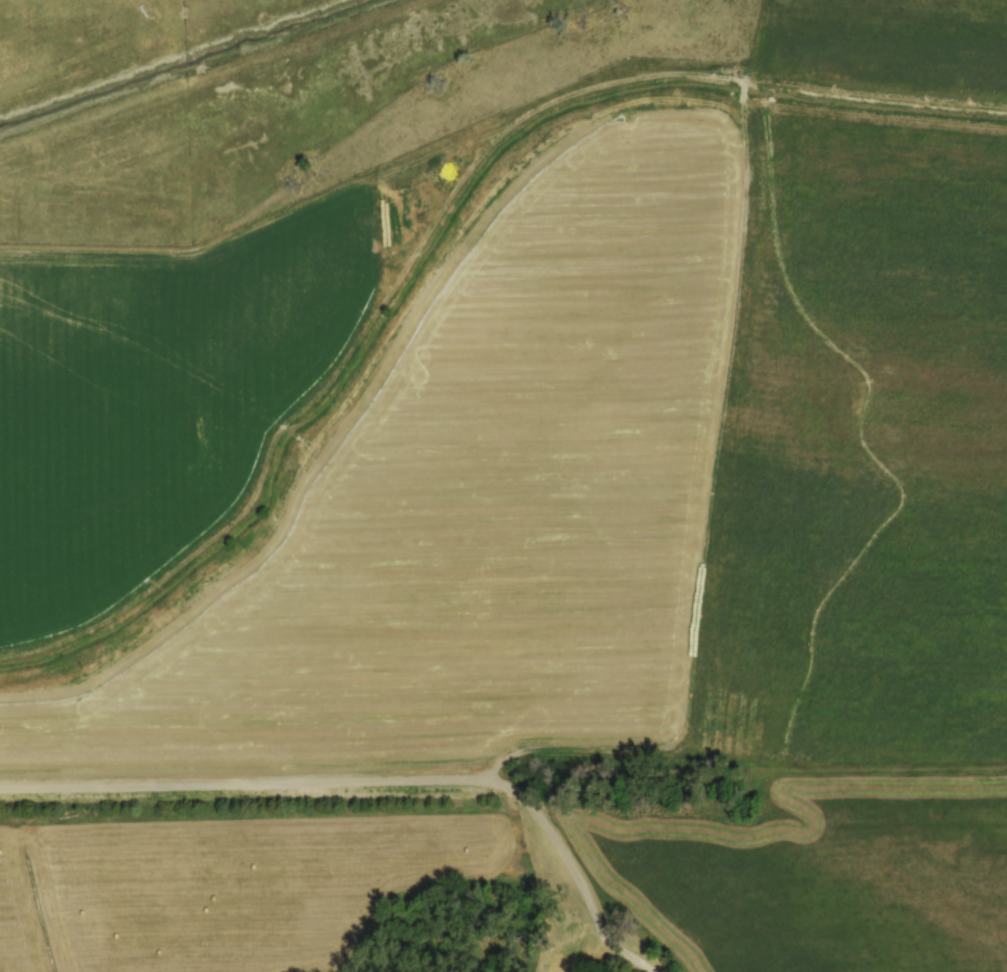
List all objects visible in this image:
road: (375, 780)

